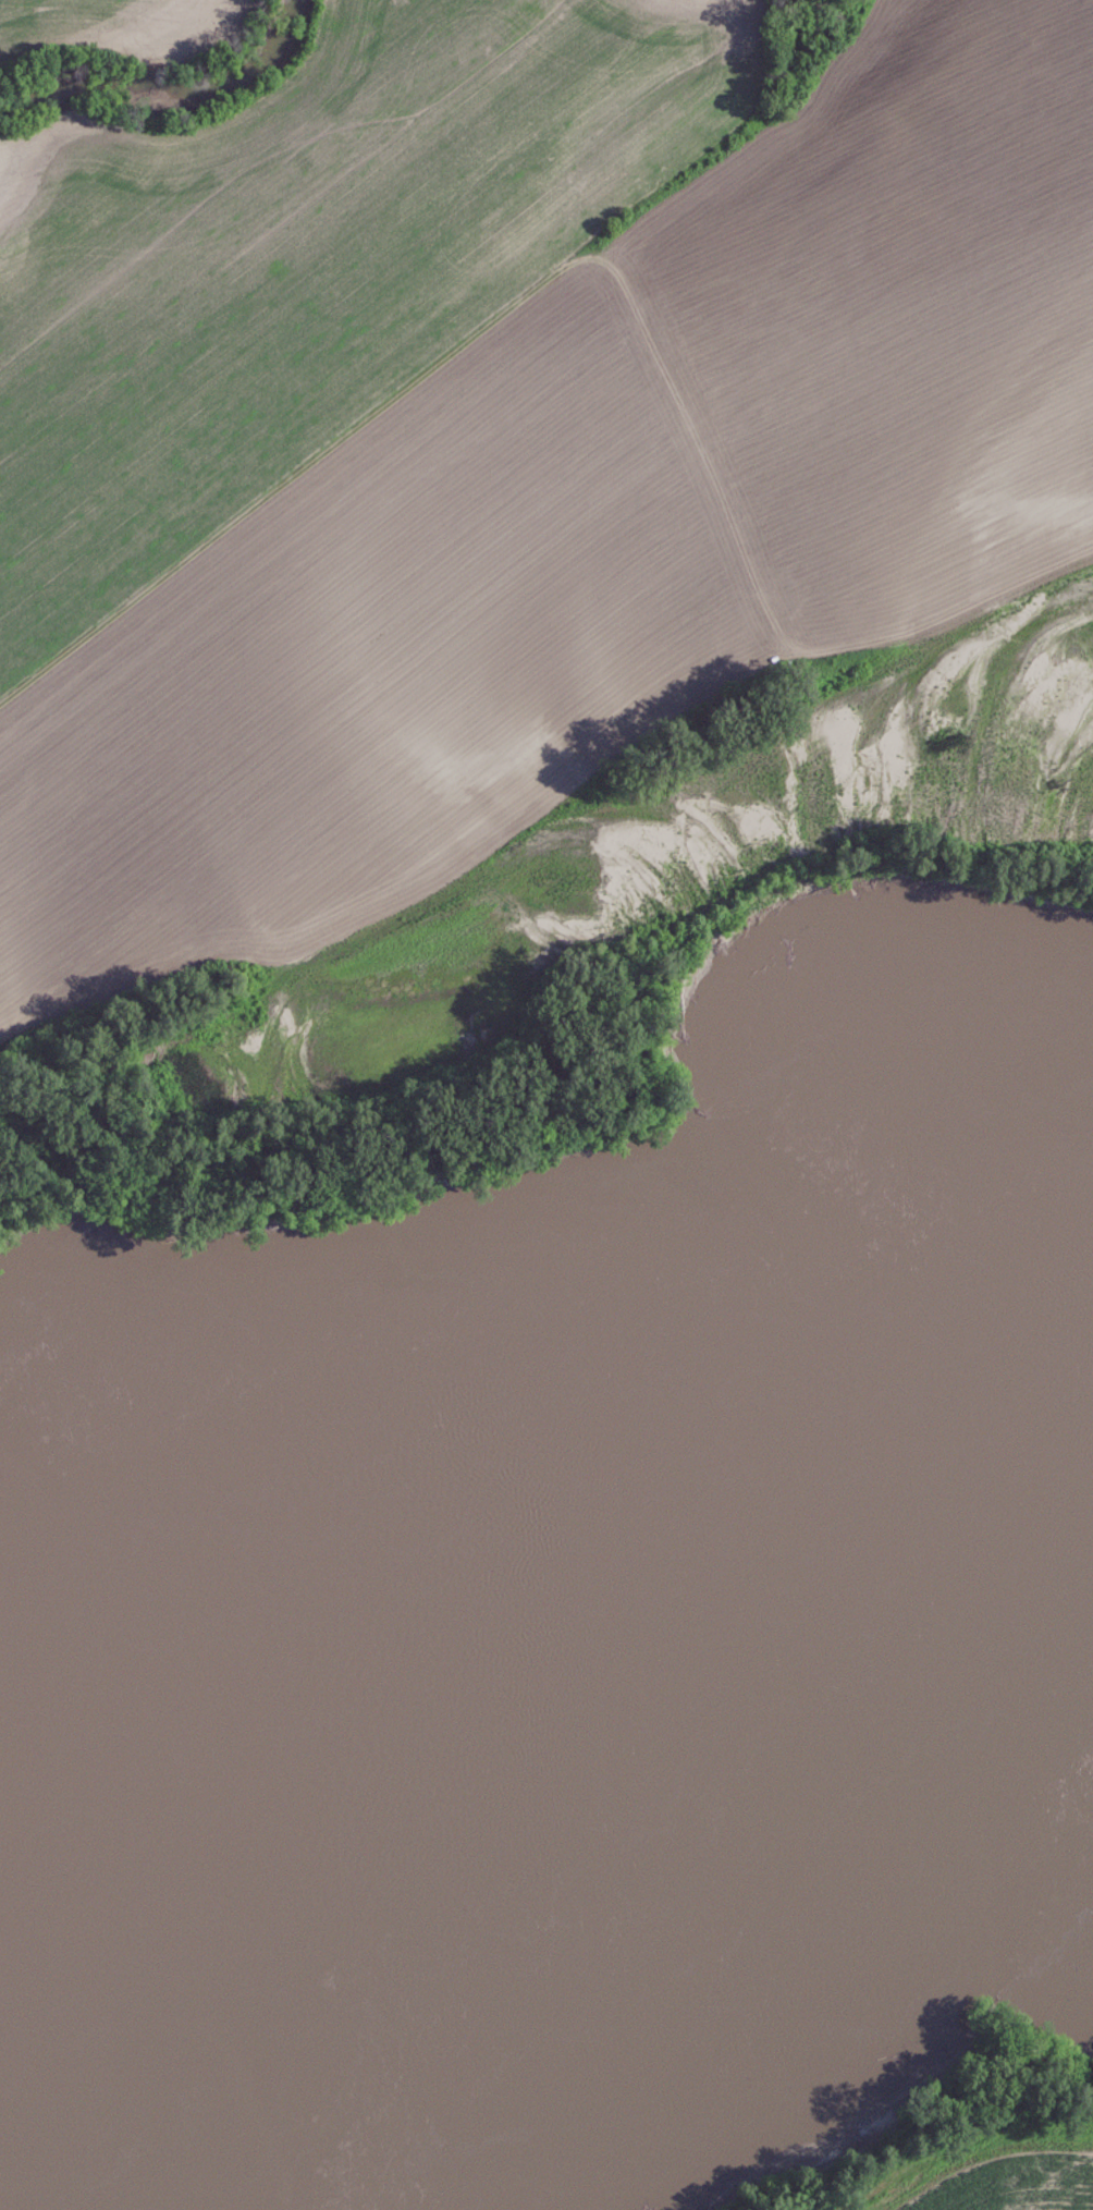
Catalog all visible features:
river: (543, 1717)

